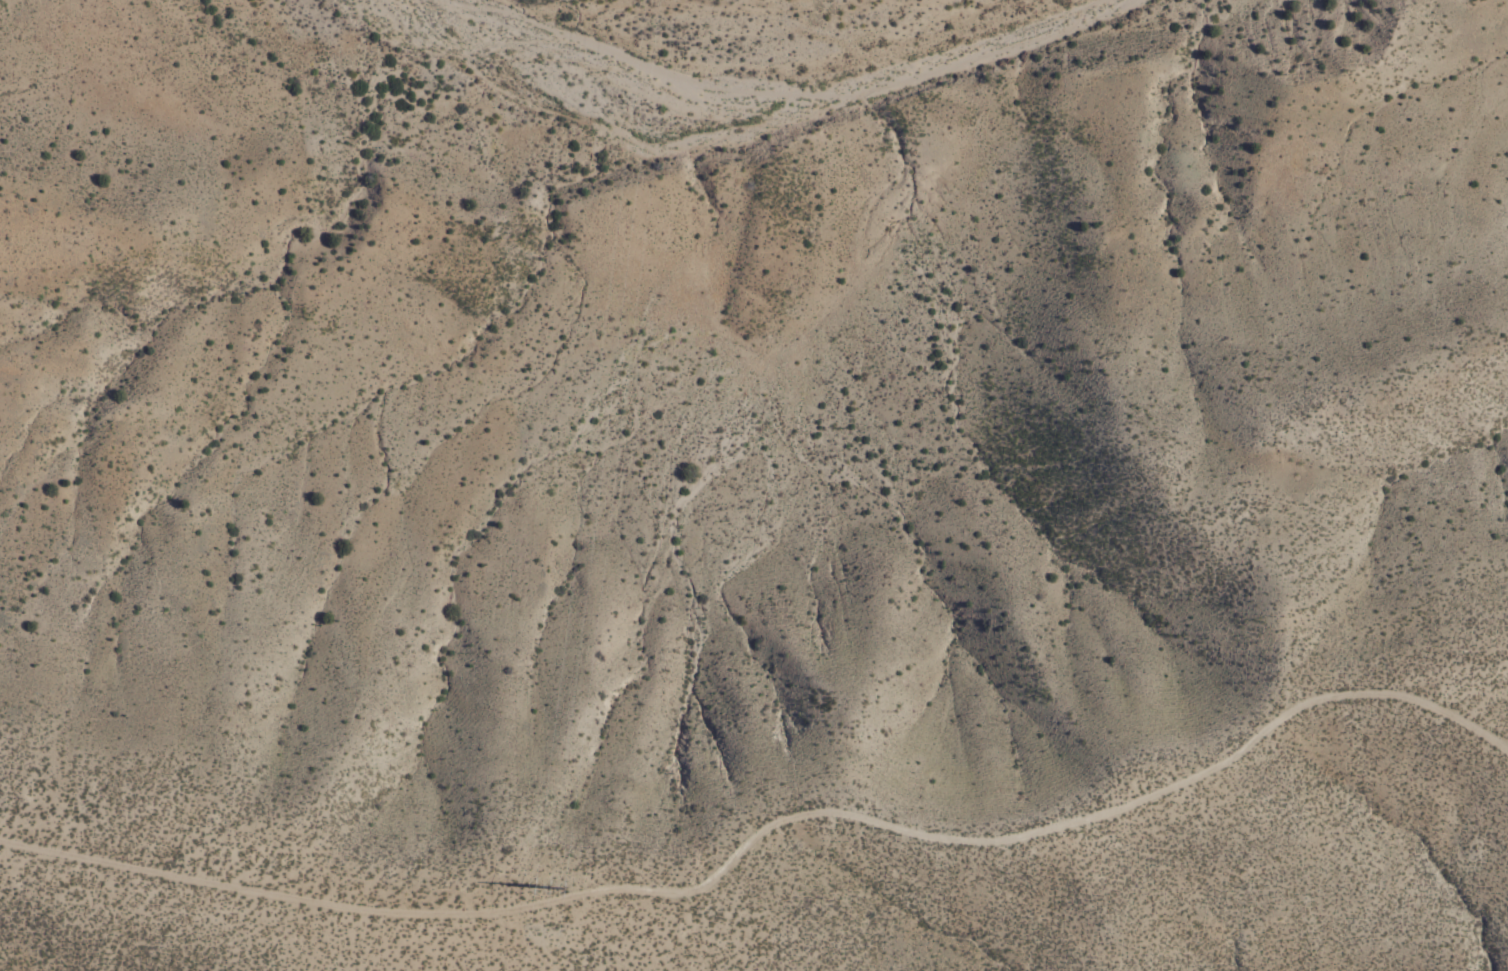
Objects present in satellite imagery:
road: (763, 824)
power tower: (547, 890)

